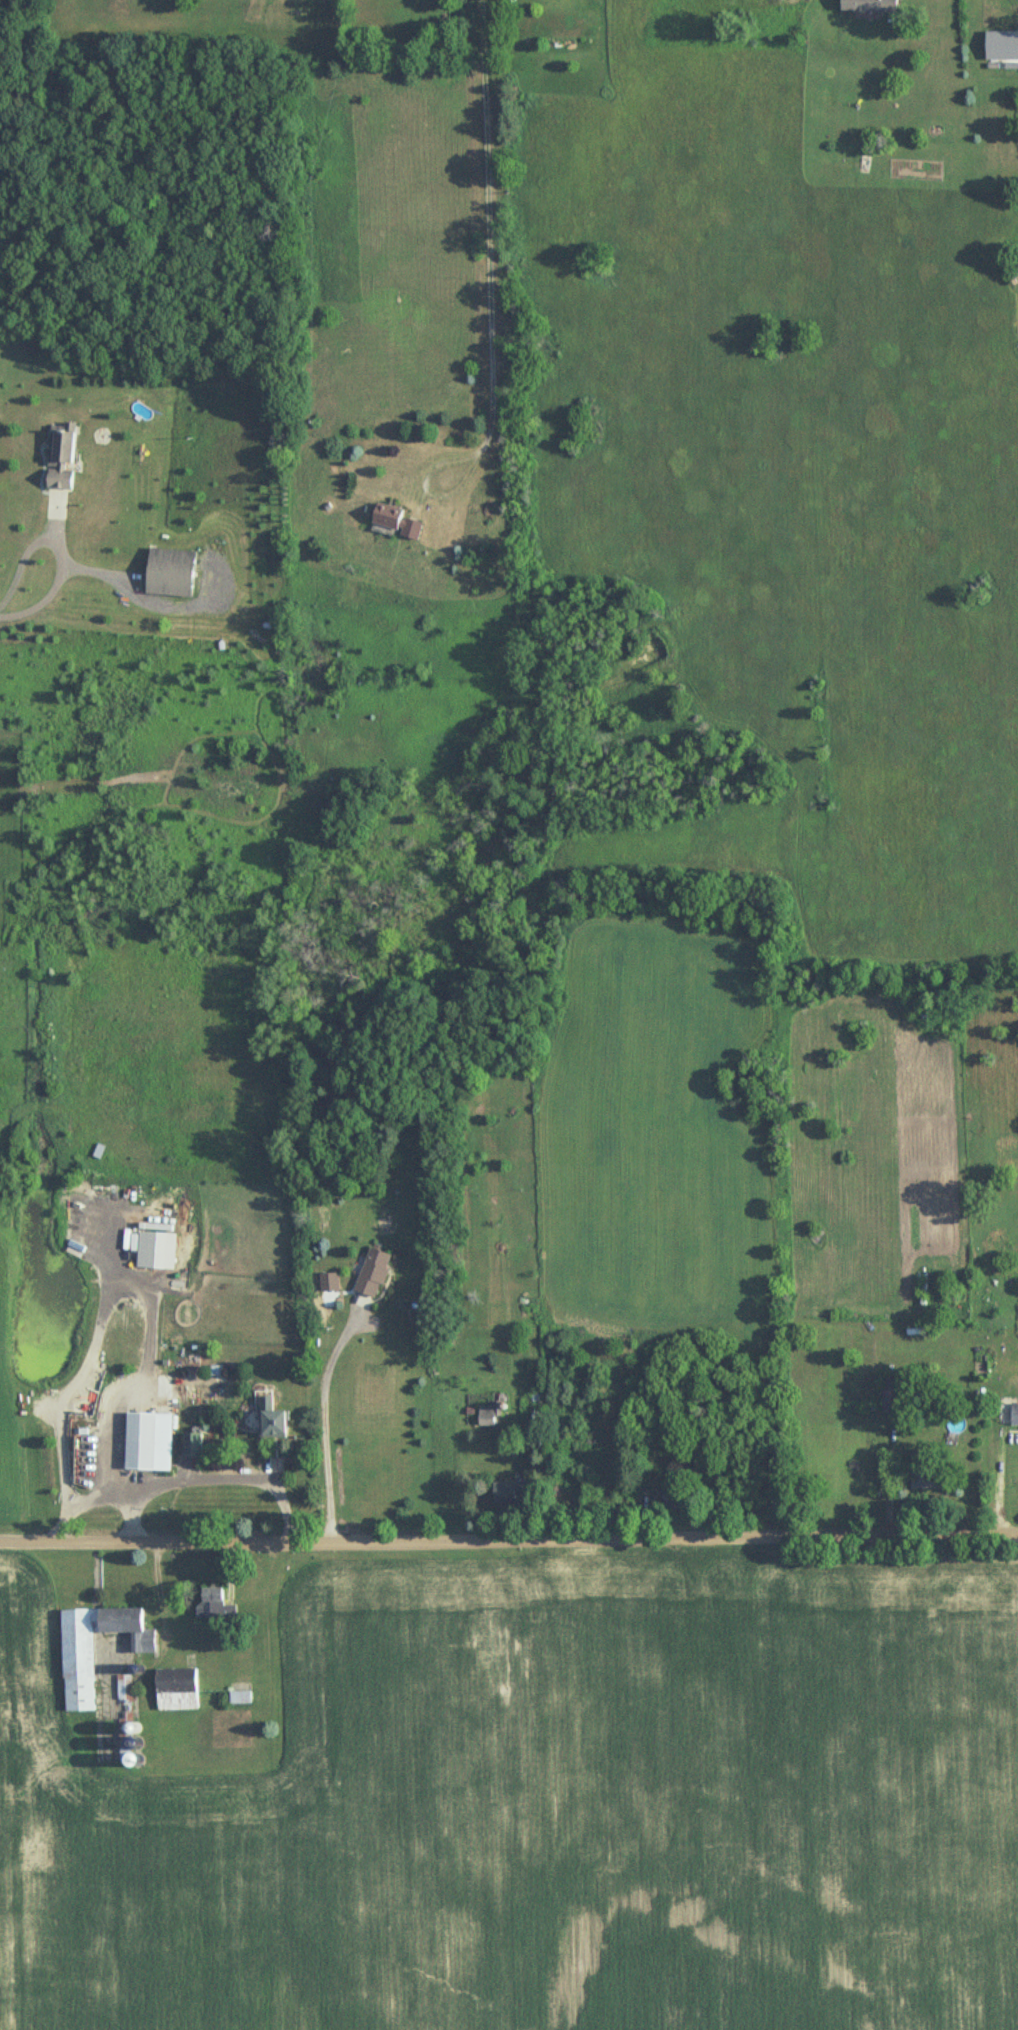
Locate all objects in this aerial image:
building: (866, 6)
road: (489, 229)
building: (59, 459)
road: (429, 492)
building: (383, 517)
building: (409, 531)
building: (168, 574)
road: (11, 608)
building: (99, 1152)
building: (371, 1273)
road: (65, 1382)
building: (89, 1412)
building: (1014, 1415)
building: (486, 1417)
building: (268, 1418)
road: (328, 1427)
building: (137, 1442)
building: (189, 1446)
building: (922, 1480)
road: (1000, 1488)
building: (507, 1493)
road: (134, 1508)
road: (59, 1514)
road: (508, 1534)
road: (160, 1592)
building: (213, 1608)
building: (78, 1682)
building: (178, 1690)
building: (241, 1698)
building: (126, 1701)

